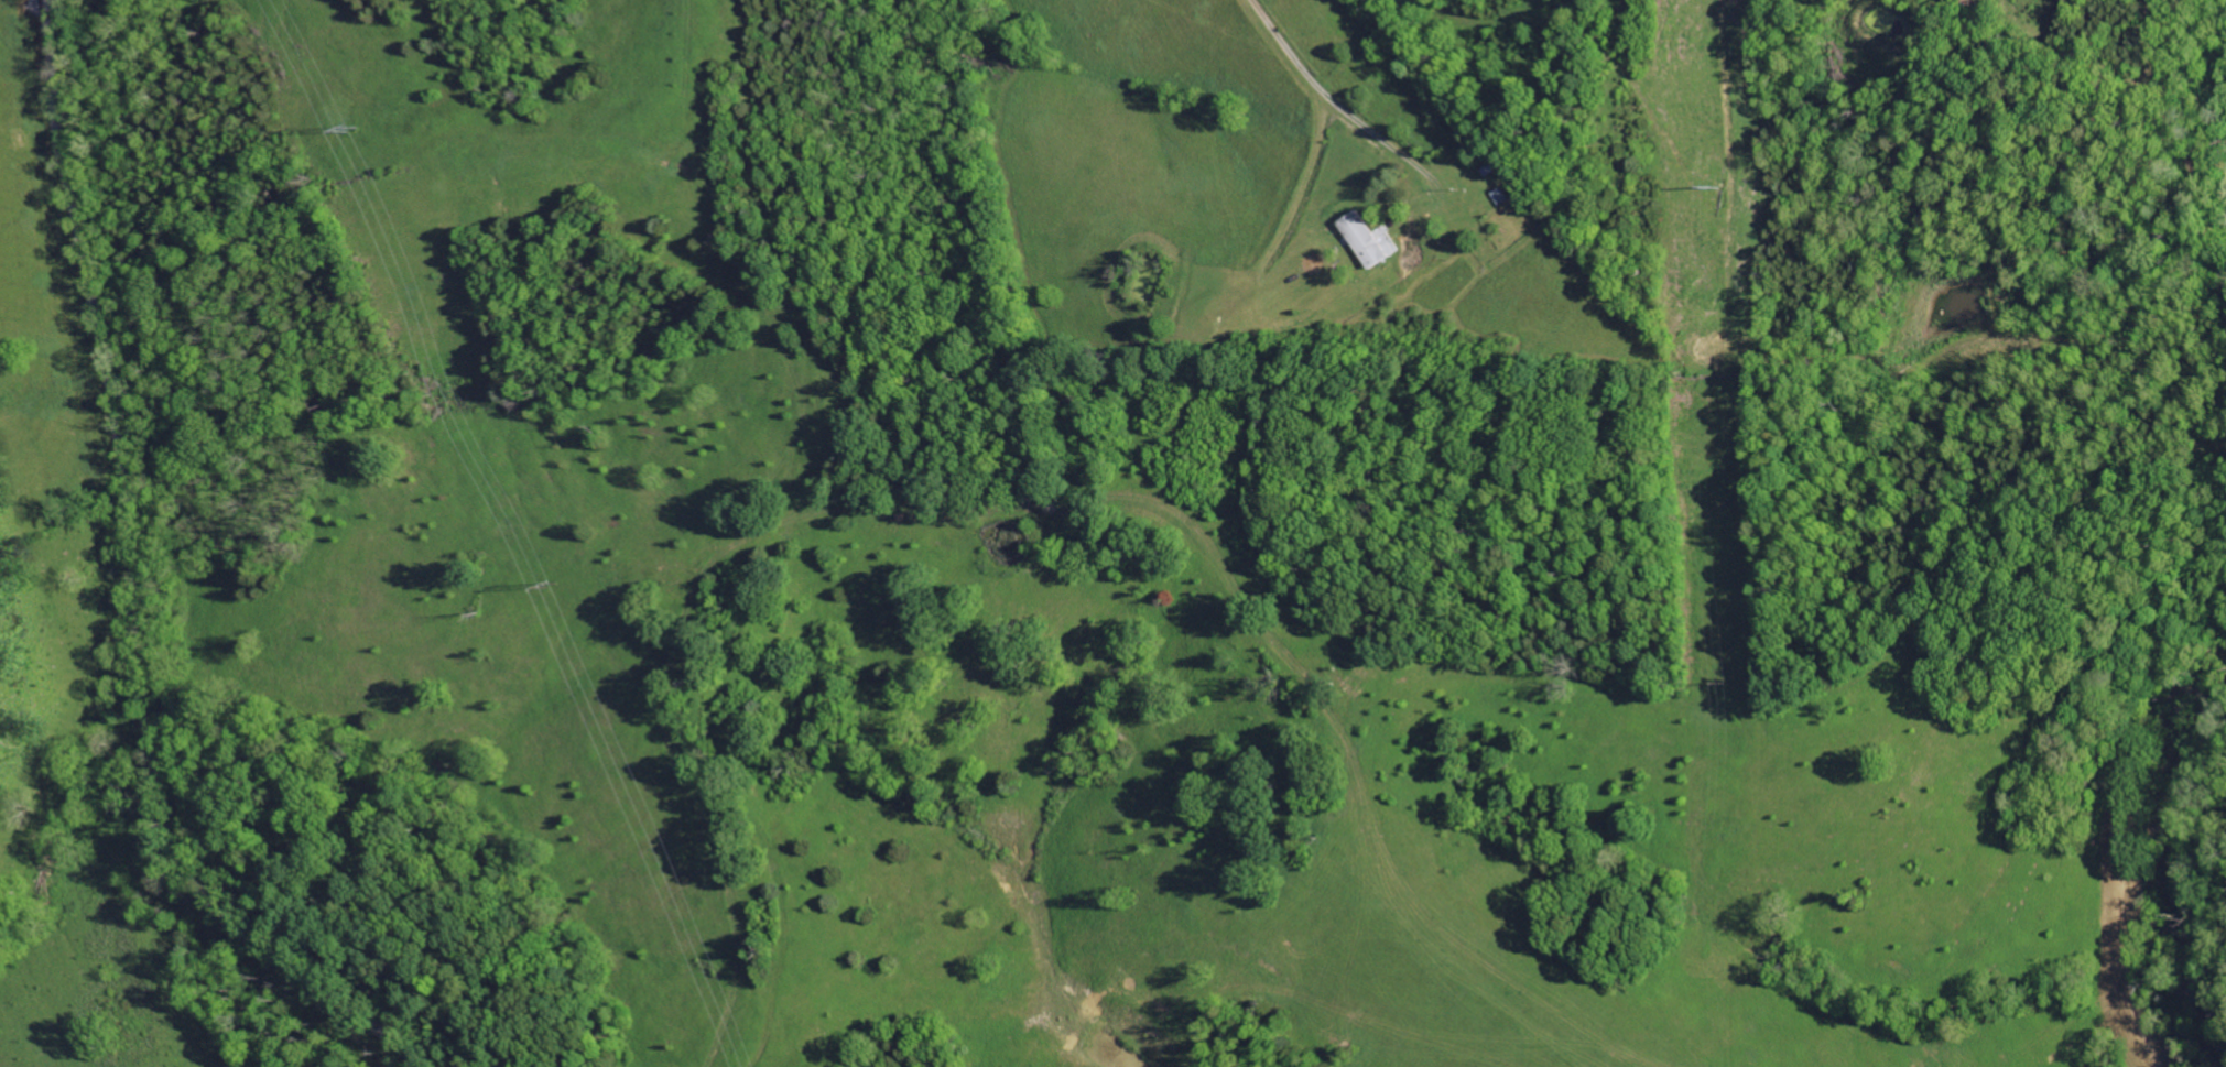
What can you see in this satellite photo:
road: (1310, 85)
building: (1369, 241)
road: (129, 590)

